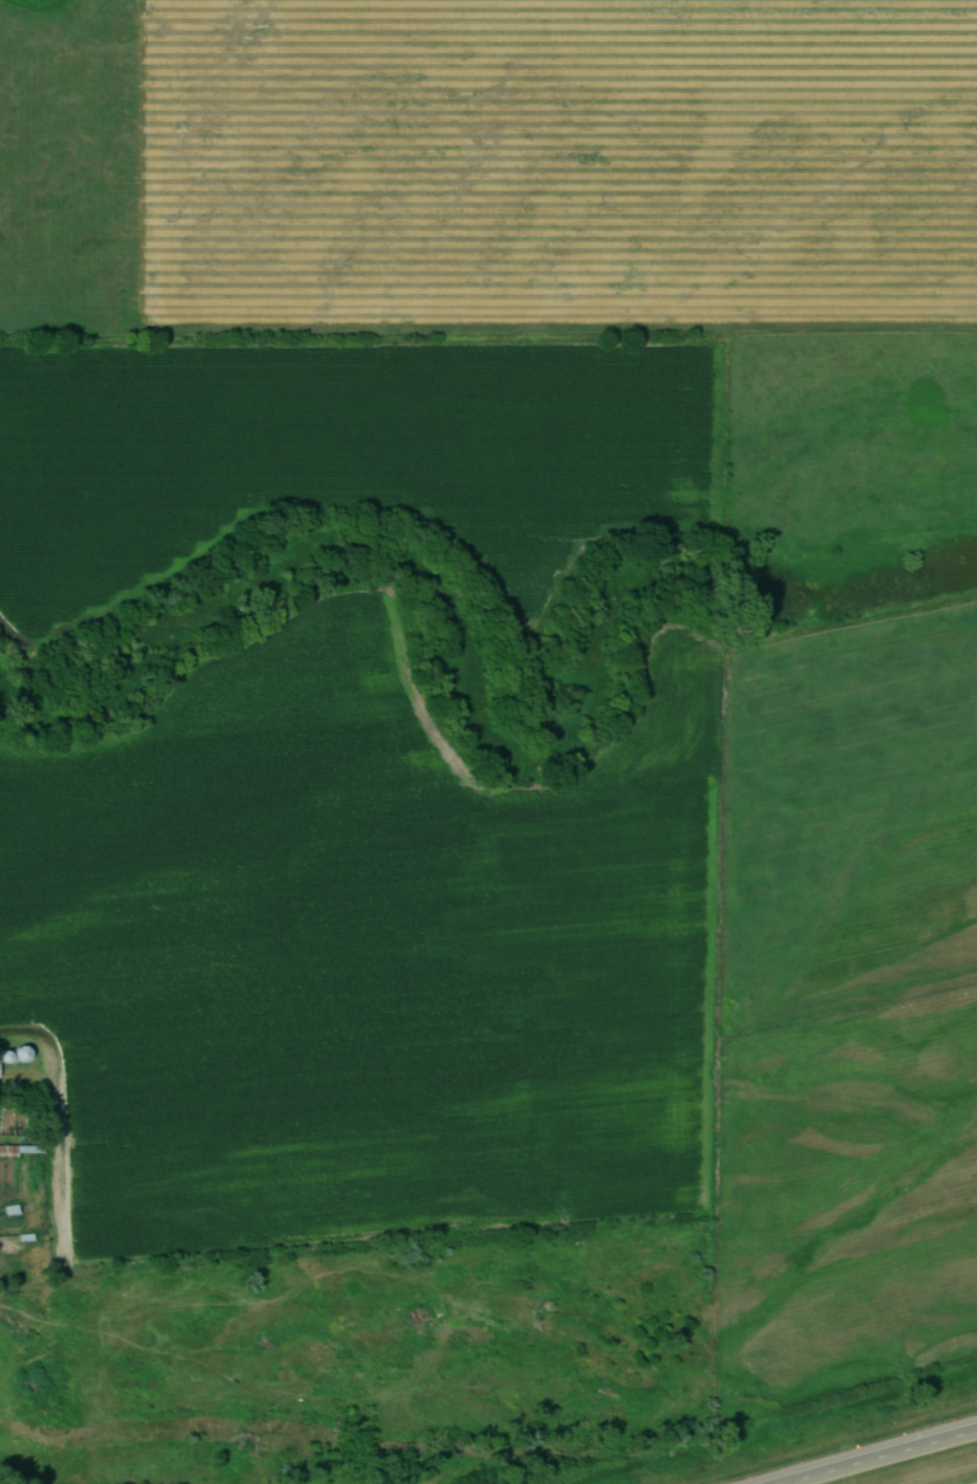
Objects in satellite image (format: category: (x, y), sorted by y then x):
building: (14, 1057)
building: (3, 1152)
road: (888, 1459)

